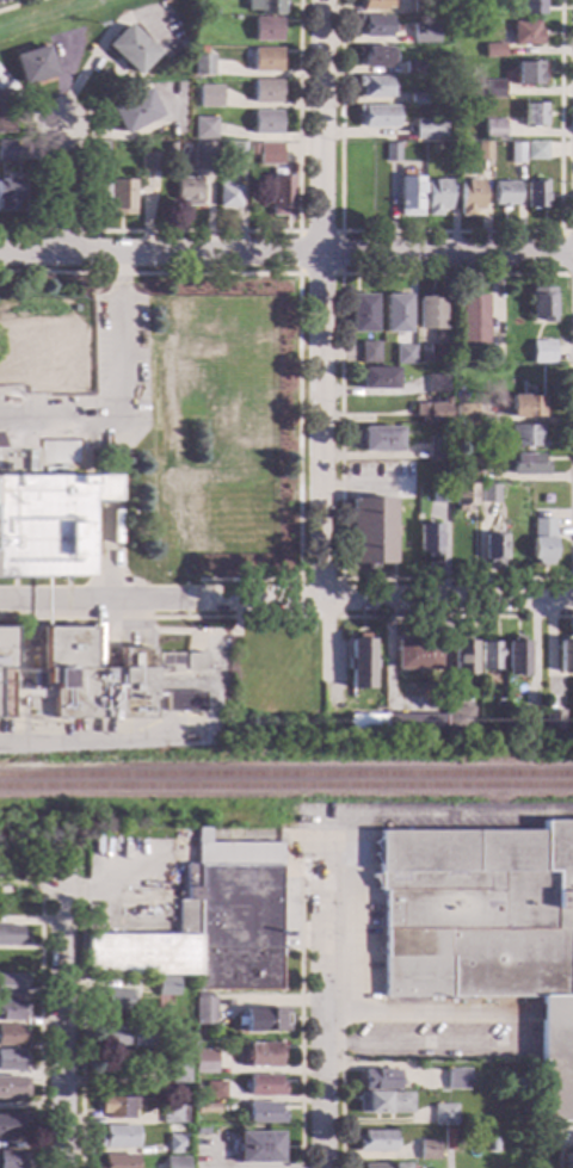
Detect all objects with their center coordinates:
road: (19, 5)
building: (376, 5)
building: (265, 6)
building: (424, 7)
building: (532, 7)
building: (211, 11)
building: (443, 11)
building: (377, 25)
building: (267, 29)
building: (426, 33)
building: (528, 33)
road: (103, 41)
building: (131, 49)
building: (495, 50)
building: (377, 56)
building: (267, 60)
building: (35, 64)
building: (204, 66)
building: (415, 67)
building: (529, 73)
building: (377, 87)
building: (495, 88)
building: (267, 91)
building: (210, 97)
building: (420, 100)
building: (135, 111)
building: (6, 112)
building: (536, 113)
building: (378, 116)
building: (267, 123)
building: (205, 128)
building: (495, 129)
building: (431, 130)
building: (255, 147)
building: (99, 148)
building: (171, 149)
building: (8, 150)
building: (537, 150)
building: (394, 152)
building: (485, 152)
building: (518, 153)
building: (238, 154)
building: (271, 154)
building: (207, 156)
building: (152, 162)
road: (64, 191)
building: (190, 191)
building: (10, 192)
building: (506, 193)
building: (229, 194)
building: (537, 194)
building: (99, 196)
building: (283, 196)
building: (412, 197)
building: (437, 197)
building: (470, 197)
building: (124, 198)
road: (300, 223)
road: (63, 233)
road: (343, 233)
road: (452, 233)
road: (21, 234)
road: (565, 251)
road: (285, 253)
road: (122, 271)
building: (544, 303)
building: (193, 308)
building: (261, 308)
building: (398, 313)
building: (431, 313)
building: (364, 314)
building: (474, 321)
road: (301, 327)
parking lot: (121, 342)
road: (258, 347)
building: (371, 352)
building: (543, 352)
road: (324, 353)
building: (407, 354)
building: (439, 354)
building: (425, 358)
building: (215, 363)
building: (261, 372)
building: (381, 378)
building: (438, 383)
building: (526, 406)
building: (436, 412)
building: (467, 413)
road: (122, 416)
building: (263, 420)
road: (343, 425)
building: (468, 435)
building: (528, 435)
building: (382, 439)
building: (442, 447)
building: (529, 464)
building: (466, 469)
building: (442, 493)
building: (491, 493)
building: (464, 496)
building: (49, 524)
building: (201, 526)
building: (372, 531)
building: (283, 532)
building: (544, 537)
building: (118, 539)
building: (430, 539)
building: (242, 544)
building: (495, 549)
road: (101, 550)
road: (567, 580)
road: (306, 581)
road: (93, 600)
road: (380, 600)
road: (156, 618)
road: (457, 618)
building: (417, 654)
building: (491, 656)
building: (517, 657)
building: (566, 657)
building: (463, 659)
building: (195, 661)
building: (361, 663)
building: (5, 672)
building: (94, 678)
building: (499, 698)
building: (183, 702)
building: (460, 719)
building: (532, 719)
building: (555, 719)
building: (398, 722)
road: (153, 739)
railway: (286, 774)
railway: (286, 786)
road: (115, 882)
building: (209, 923)
building: (486, 928)
building: (11, 935)
building: (11, 984)
building: (165, 985)
building: (111, 999)
road: (322, 1002)
building: (203, 1009)
building: (10, 1011)
road: (448, 1014)
road: (298, 1019)
road: (61, 1020)
building: (264, 1020)
road: (495, 1021)
road: (38, 1022)
road: (79, 1030)
building: (11, 1034)
building: (125, 1037)
road: (431, 1044)
building: (259, 1055)
building: (11, 1061)
building: (203, 1061)
building: (177, 1070)
building: (456, 1079)
building: (378, 1080)
building: (263, 1086)
building: (11, 1087)
building: (212, 1089)
road: (340, 1090)
building: (383, 1102)
building: (113, 1107)
building: (204, 1107)
building: (263, 1113)
building: (171, 1114)
building: (443, 1114)
building: (11, 1125)
building: (199, 1131)
building: (116, 1136)
building: (448, 1139)
building: (375, 1141)
building: (174, 1143)
building: (257, 1148)
building: (427, 1149)
road: (557, 1149)
building: (10, 1160)
building: (116, 1161)
building: (567, 1161)
building: (174, 1162)
building: (383, 1166)

